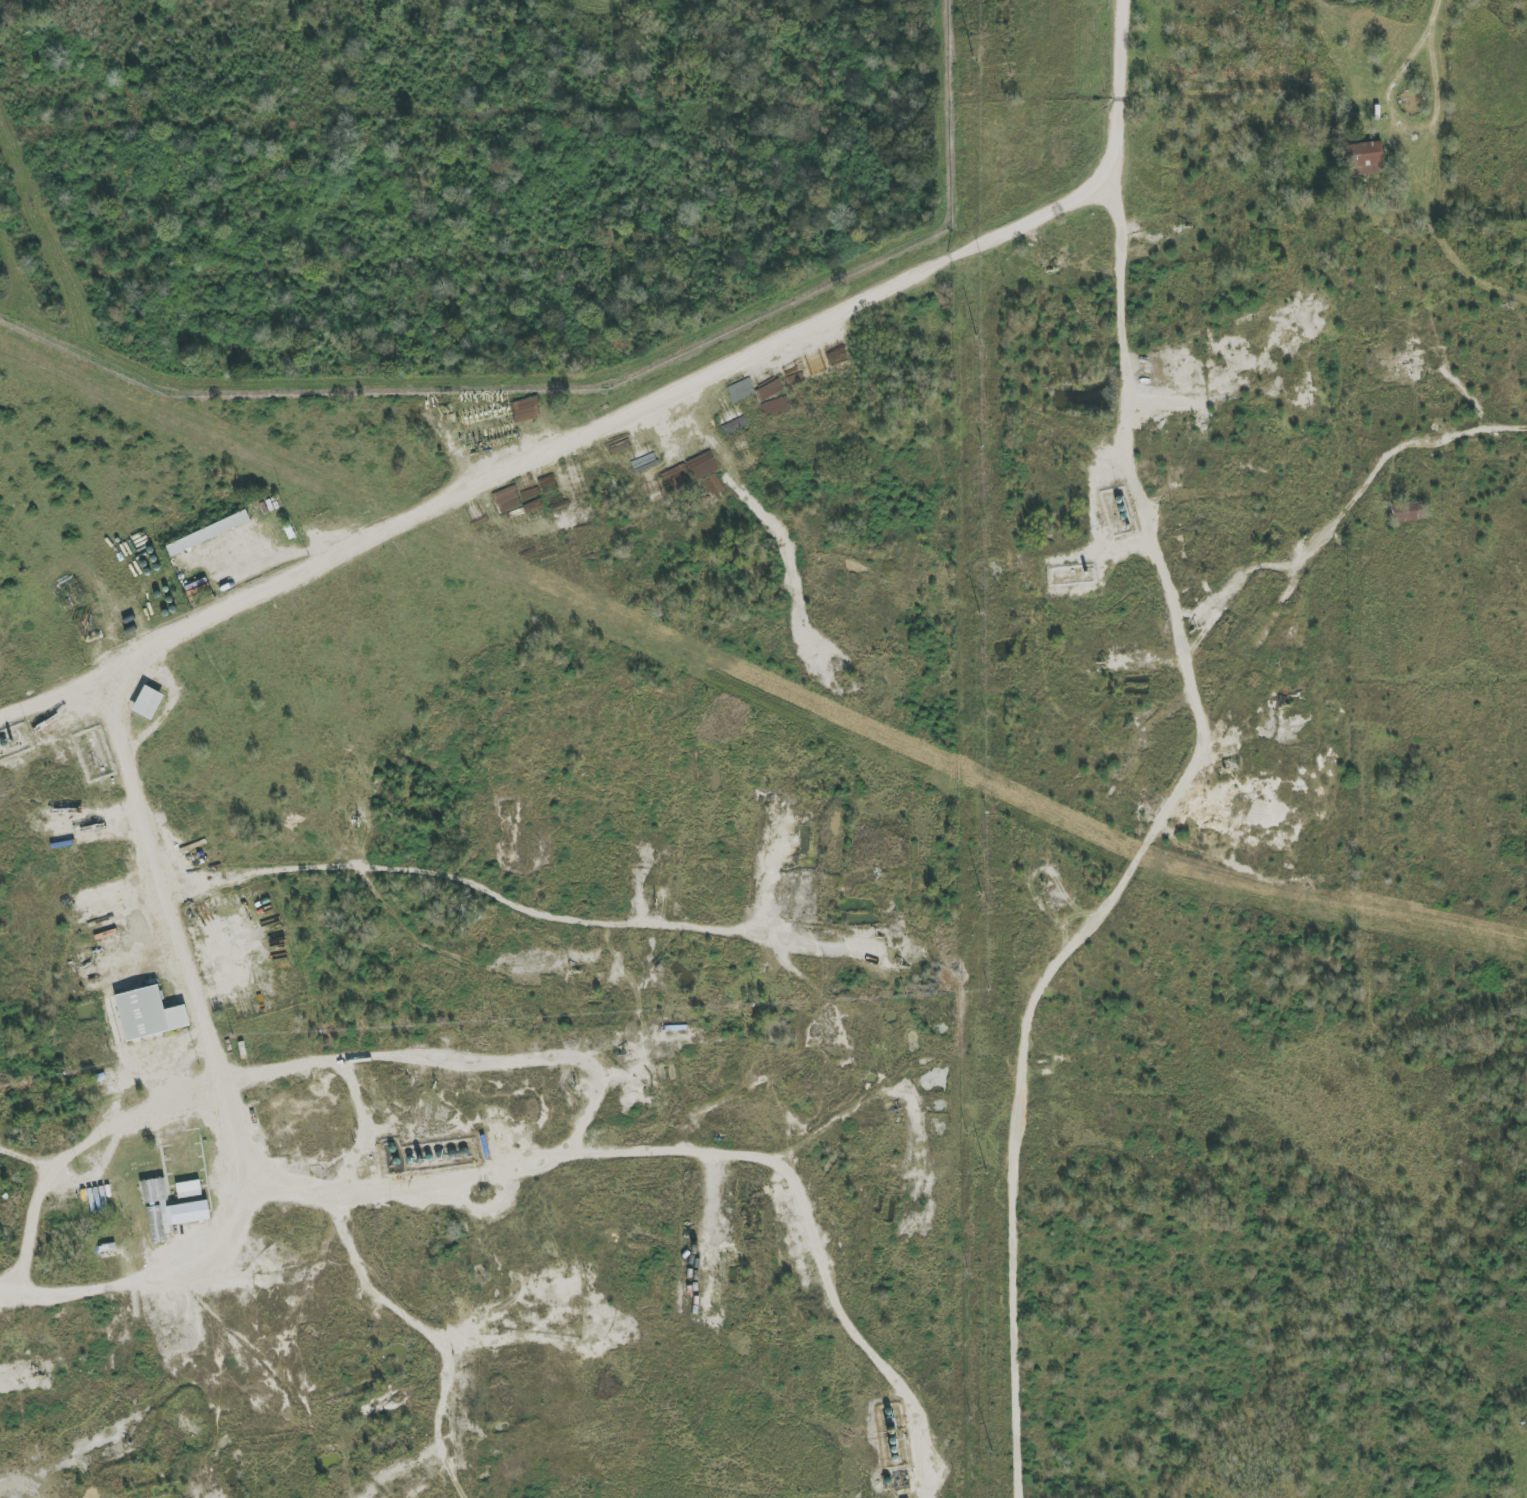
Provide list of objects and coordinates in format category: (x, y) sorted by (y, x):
road: (1432, 19)
road: (1124, 88)
road: (1409, 136)
building: (1364, 159)
road: (1123, 314)
road: (1483, 435)
road: (562, 445)
building: (1406, 511)
building: (208, 533)
building: (148, 703)
road: (414, 859)
building: (148, 1014)
road: (453, 1060)
road: (217, 1061)
road: (71, 1153)
road: (351, 1186)
building: (189, 1189)
building: (153, 1191)
building: (174, 1217)
road: (810, 1229)
road: (439, 1327)

